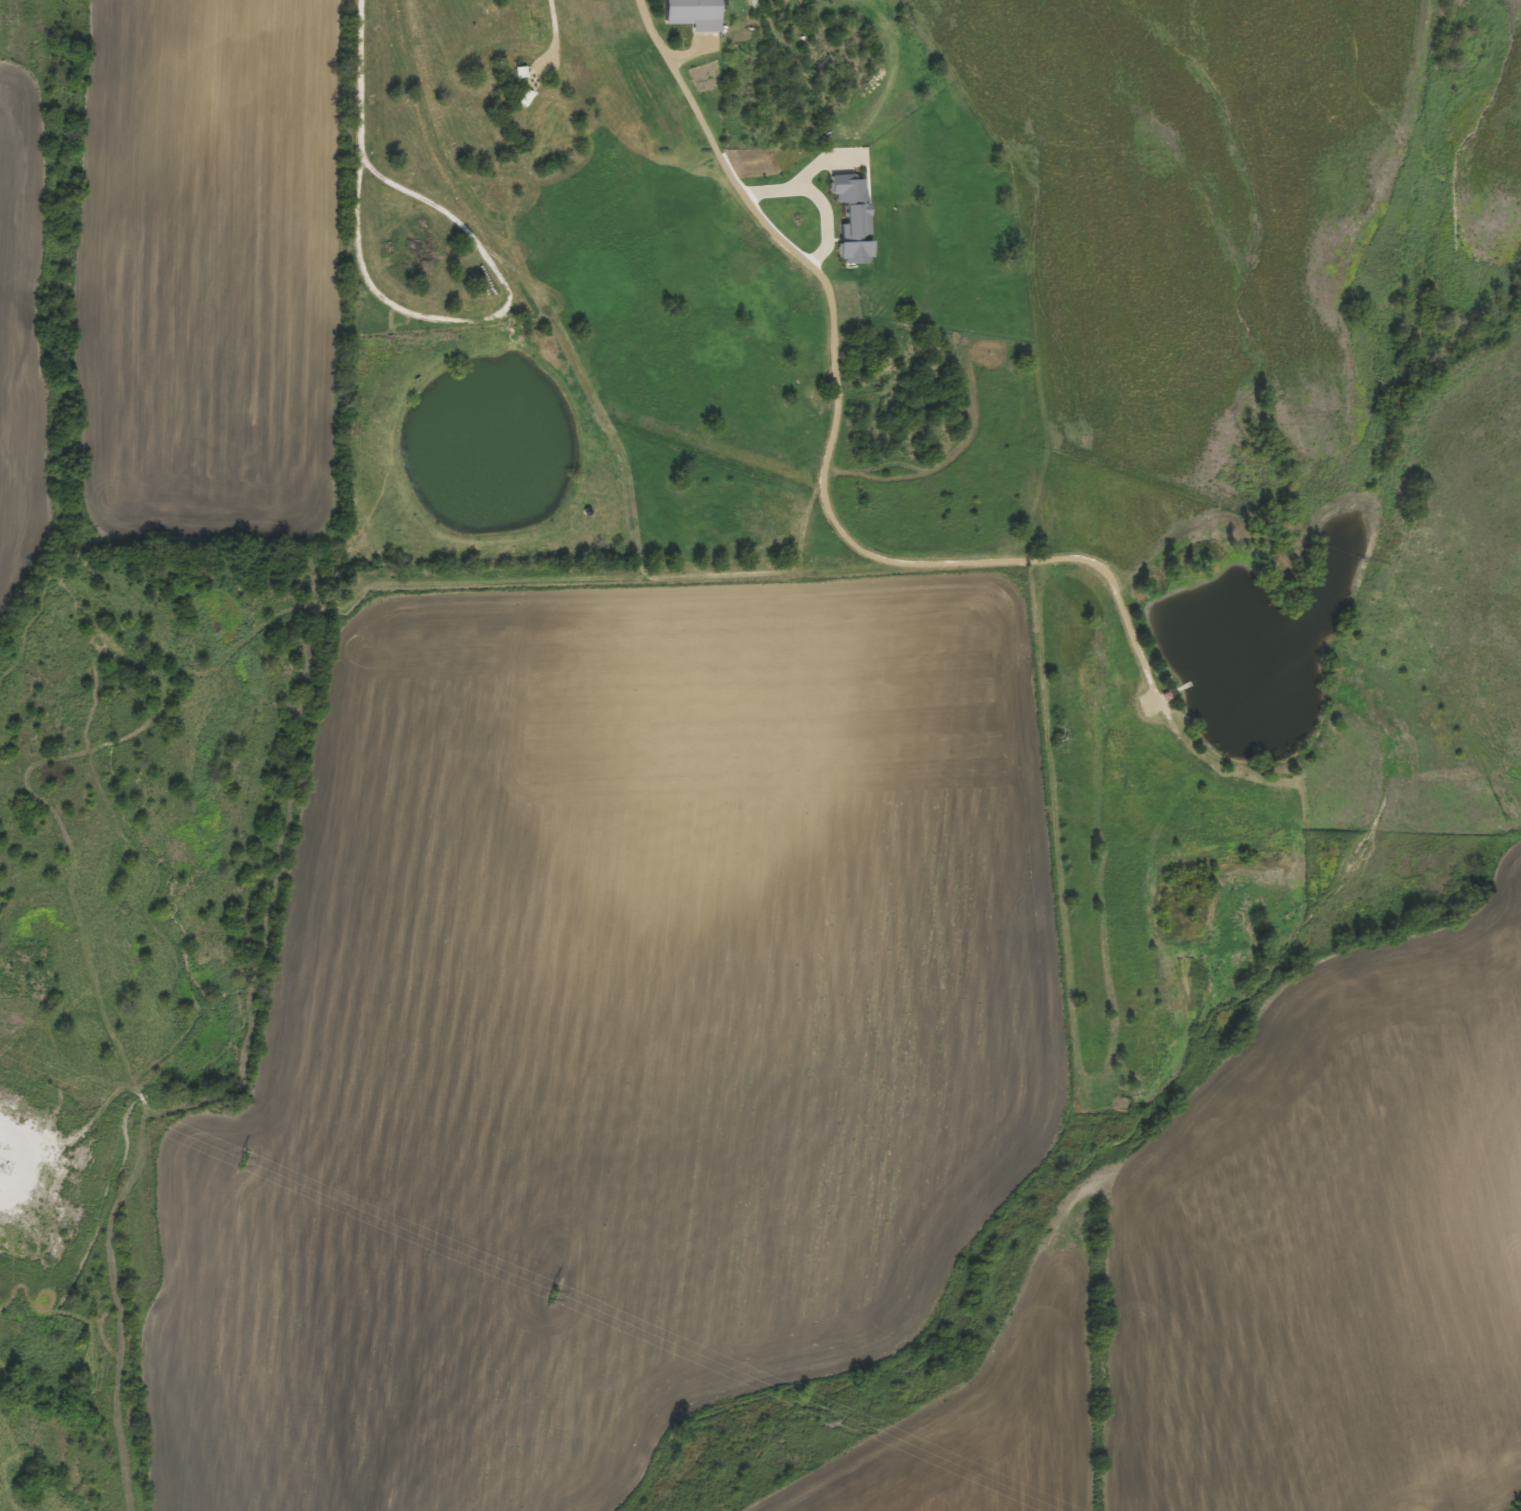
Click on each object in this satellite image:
building: (698, 14)
road: (710, 140)
road: (26, 1163)

